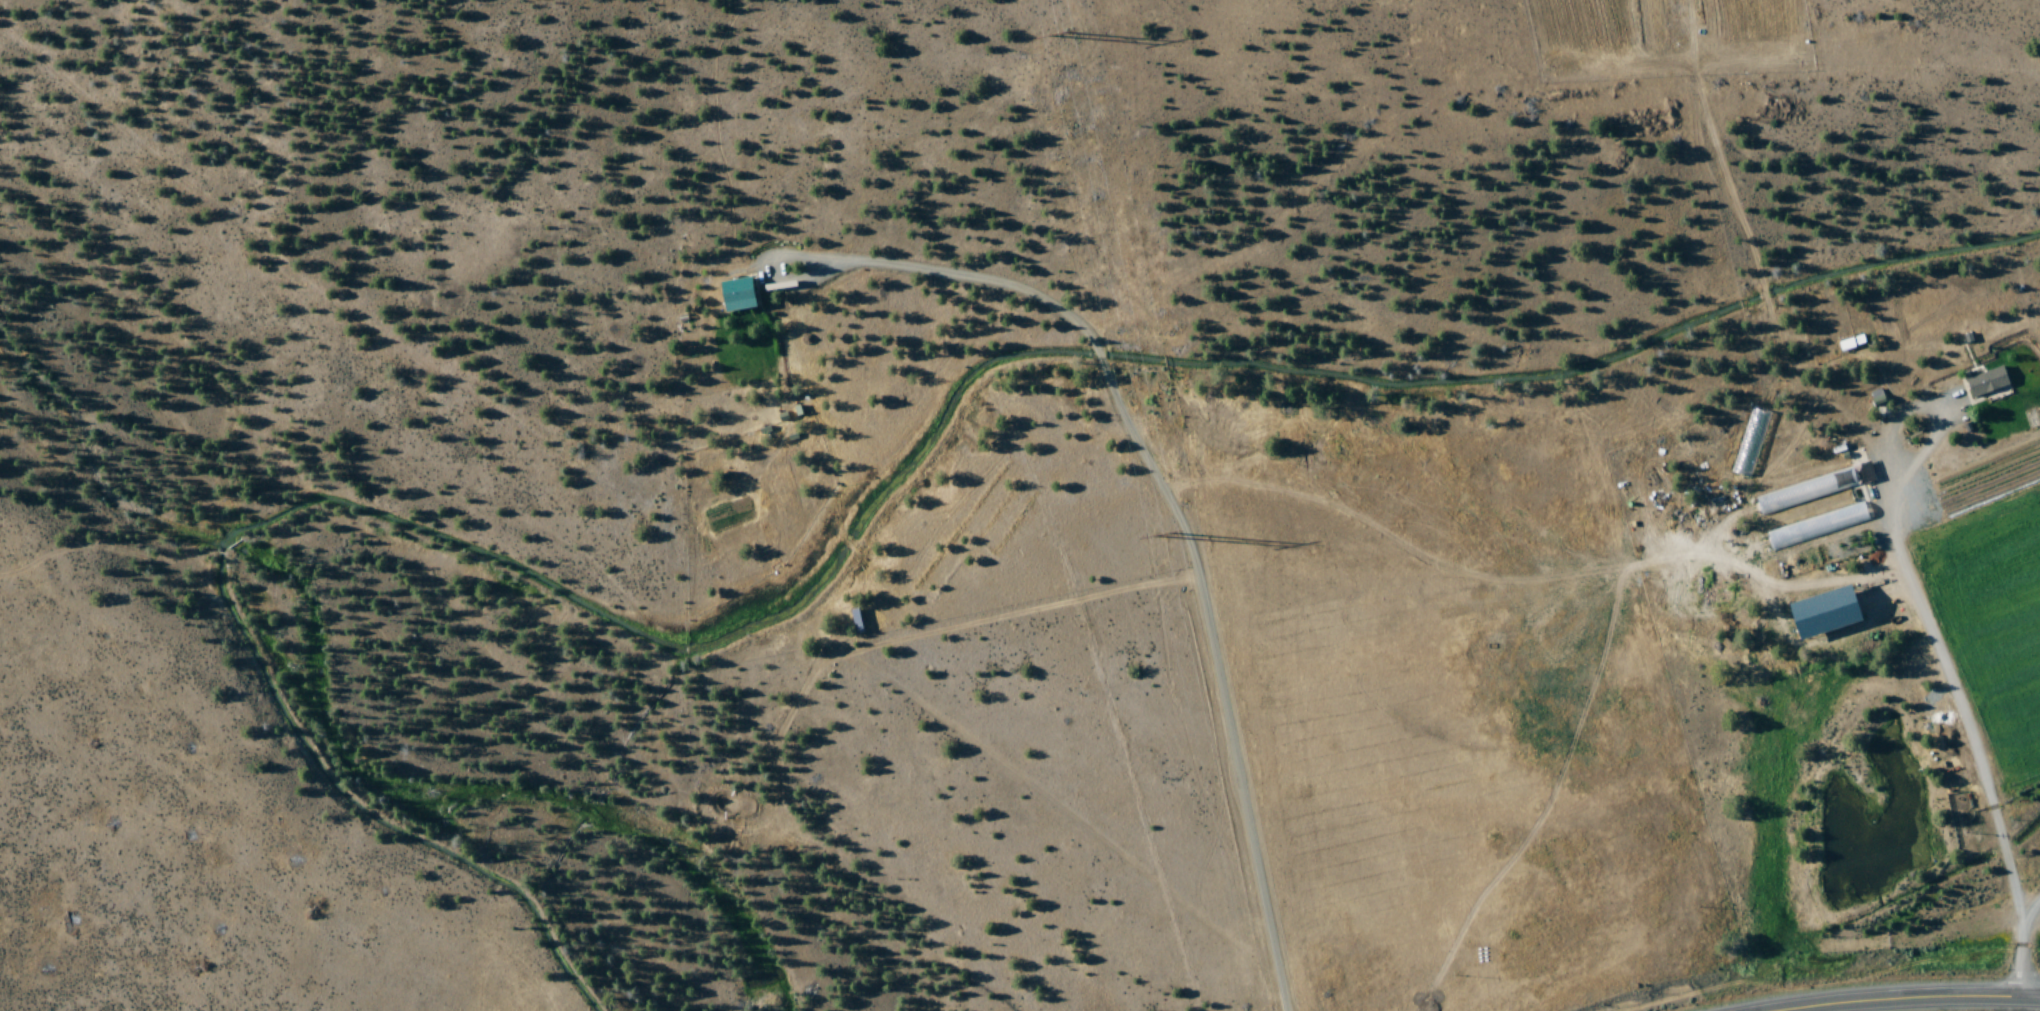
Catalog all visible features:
power tower: (1064, 36)
building: (738, 295)
building: (1847, 345)
building: (1878, 398)
building: (1807, 492)
building: (1818, 527)
power tower: (1172, 539)
building: (1825, 614)
road: (2030, 955)
road: (1932, 1000)

